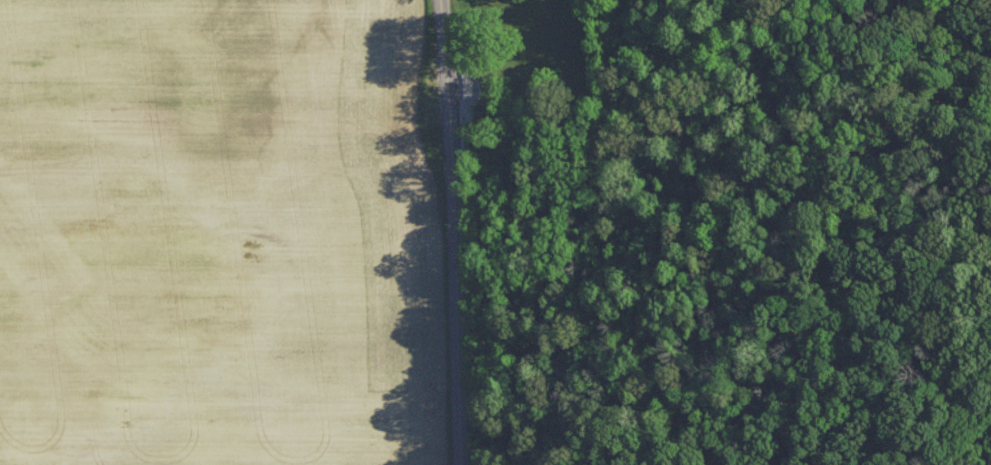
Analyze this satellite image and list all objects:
road: (461, 232)

